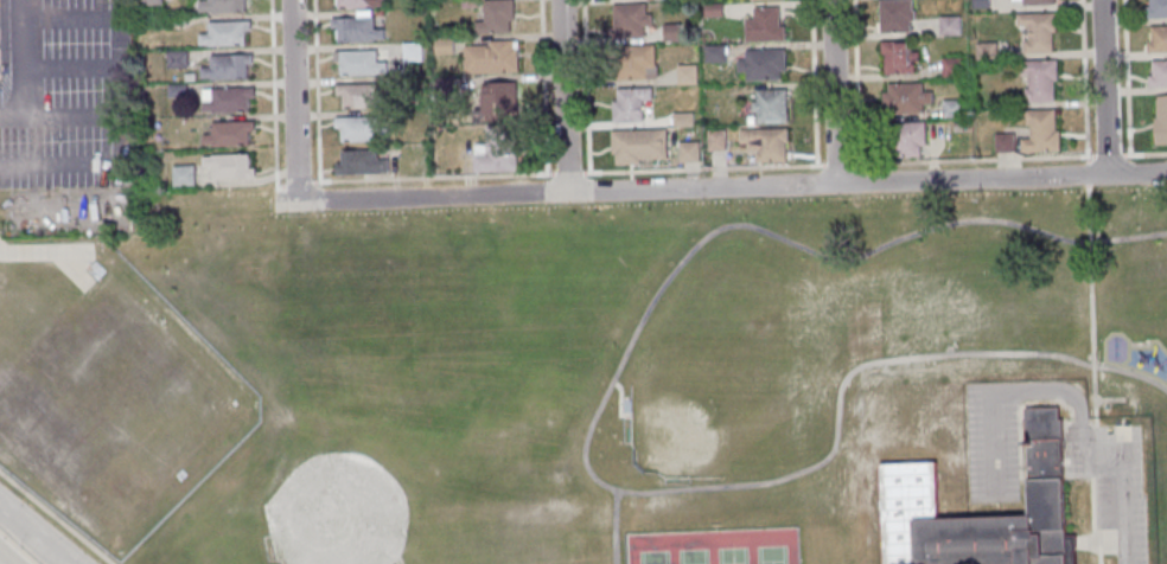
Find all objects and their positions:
building: (1039, 2)
building: (358, 4)
building: (225, 6)
building: (1159, 8)
road: (21, 11)
building: (898, 15)
building: (497, 18)
building: (631, 19)
building: (767, 24)
building: (951, 26)
building: (357, 30)
building: (1040, 32)
building: (228, 33)
building: (672, 33)
building: (1158, 39)
road: (115, 45)
building: (414, 52)
building: (899, 57)
building: (178, 58)
building: (492, 58)
building: (637, 62)
building: (361, 63)
building: (764, 63)
building: (229, 66)
building: (951, 68)
road: (70, 69)
building: (689, 73)
building: (1159, 73)
building: (1041, 82)
road: (1104, 86)
road: (834, 91)
building: (361, 95)
road: (563, 96)
building: (907, 98)
building: (229, 100)
road: (293, 101)
building: (502, 101)
parking lot: (68, 103)
building: (631, 104)
building: (772, 104)
building: (955, 109)
road: (71, 116)
building: (1161, 118)
building: (361, 128)
building: (1042, 132)
building: (231, 134)
building: (912, 139)
building: (718, 140)
road: (25, 142)
building: (1006, 142)
building: (767, 143)
building: (640, 146)
building: (499, 152)
building: (690, 152)
building: (363, 161)
building: (231, 166)
building: (185, 175)
road: (732, 187)
road: (42, 251)
road: (1091, 313)
park: (548, 376)
road: (620, 399)
park: (709, 399)
road: (1109, 399)
road: (588, 431)
parking lot: (990, 442)
road: (991, 446)
road: (1019, 447)
road: (1090, 449)
parking lot: (1111, 480)
park: (352, 491)
building: (908, 495)
road: (57, 517)
road: (1092, 521)
road: (614, 526)
road: (28, 527)
road: (1099, 543)
park: (771, 555)
park: (693, 556)
park: (732, 556)
park: (652, 557)
road: (63, 558)
road: (64, 558)
road: (0, 563)

